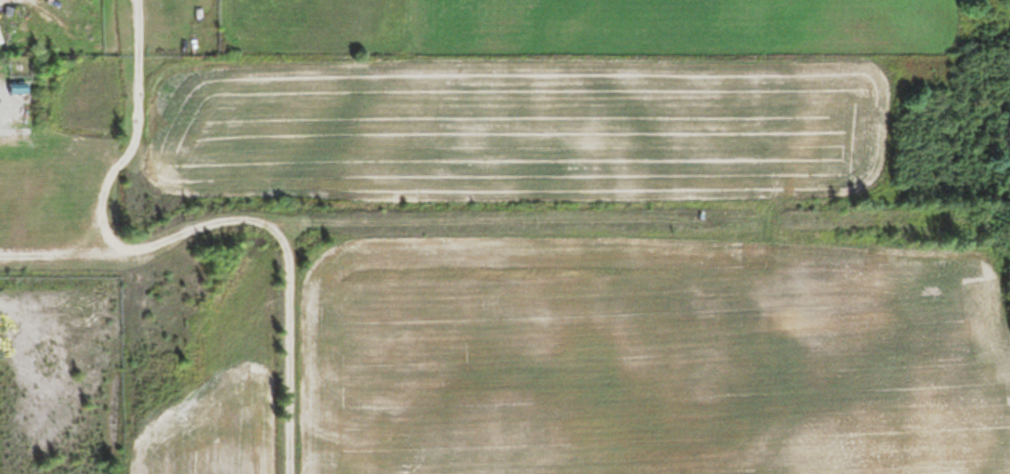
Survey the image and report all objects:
road: (121, 161)
road: (291, 239)

